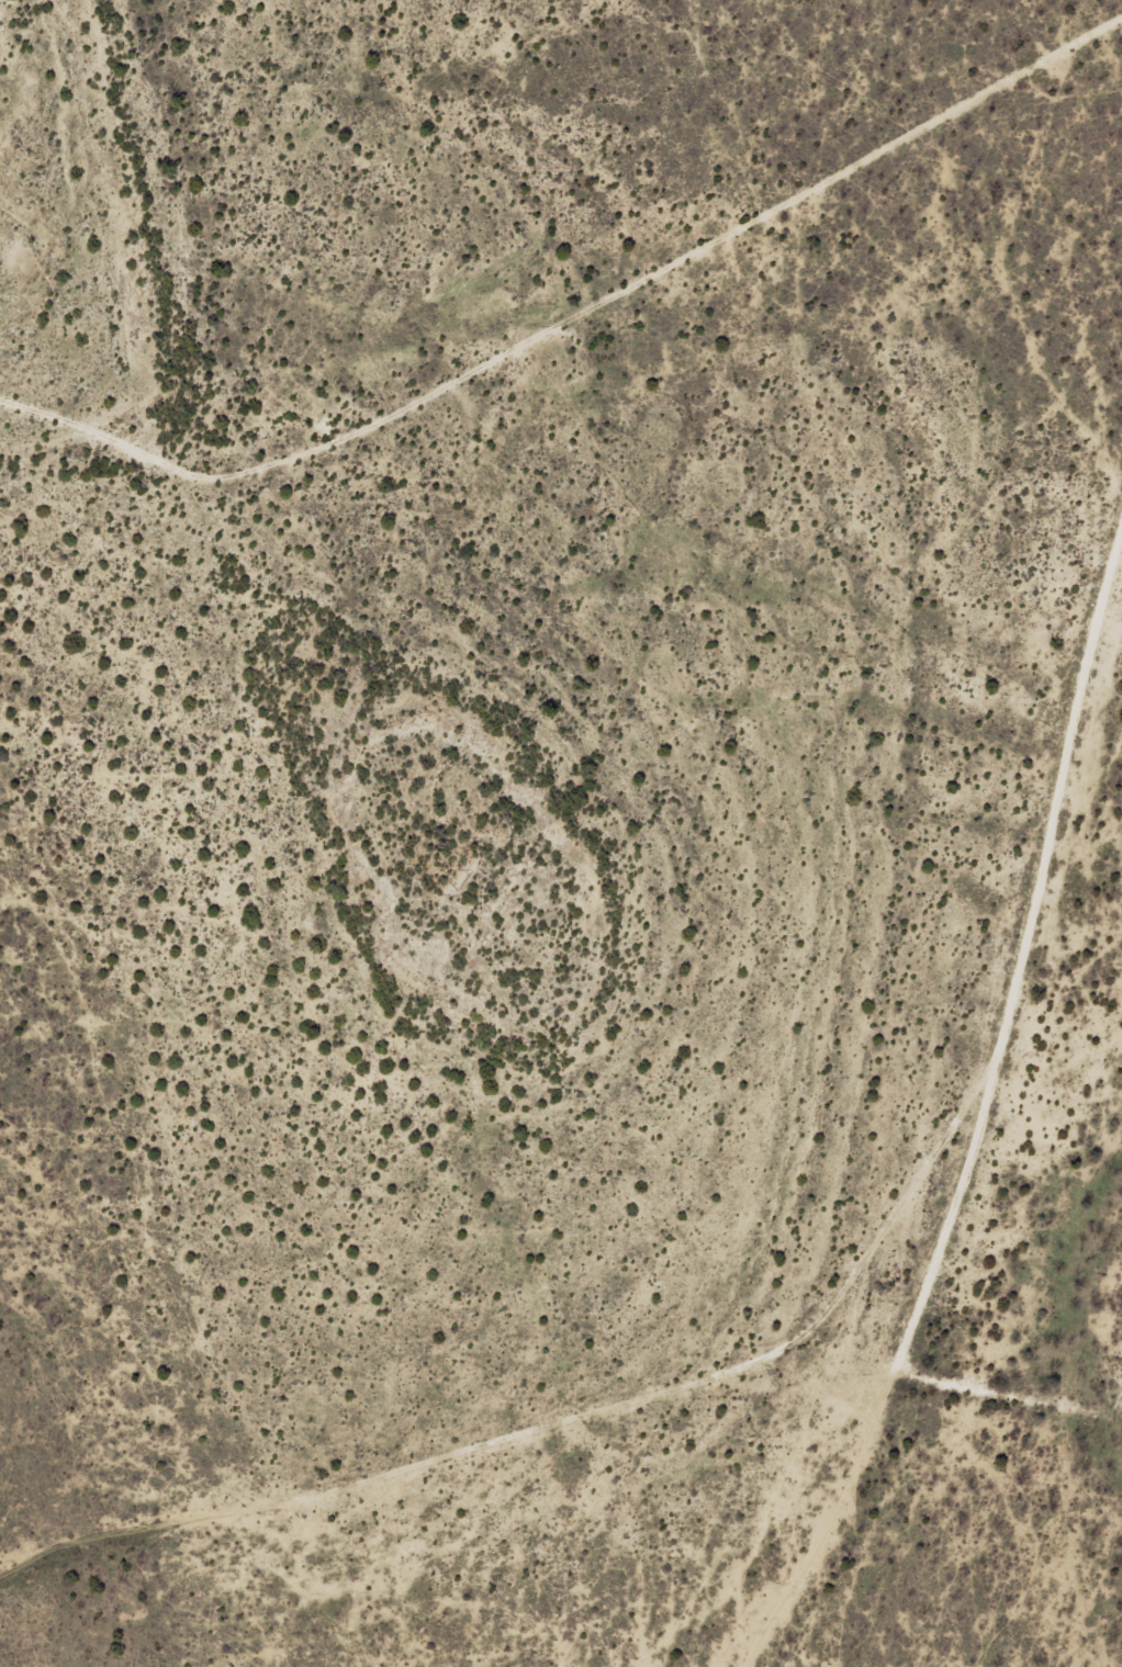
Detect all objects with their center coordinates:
road: (995, 1114)
road: (528, 1412)

